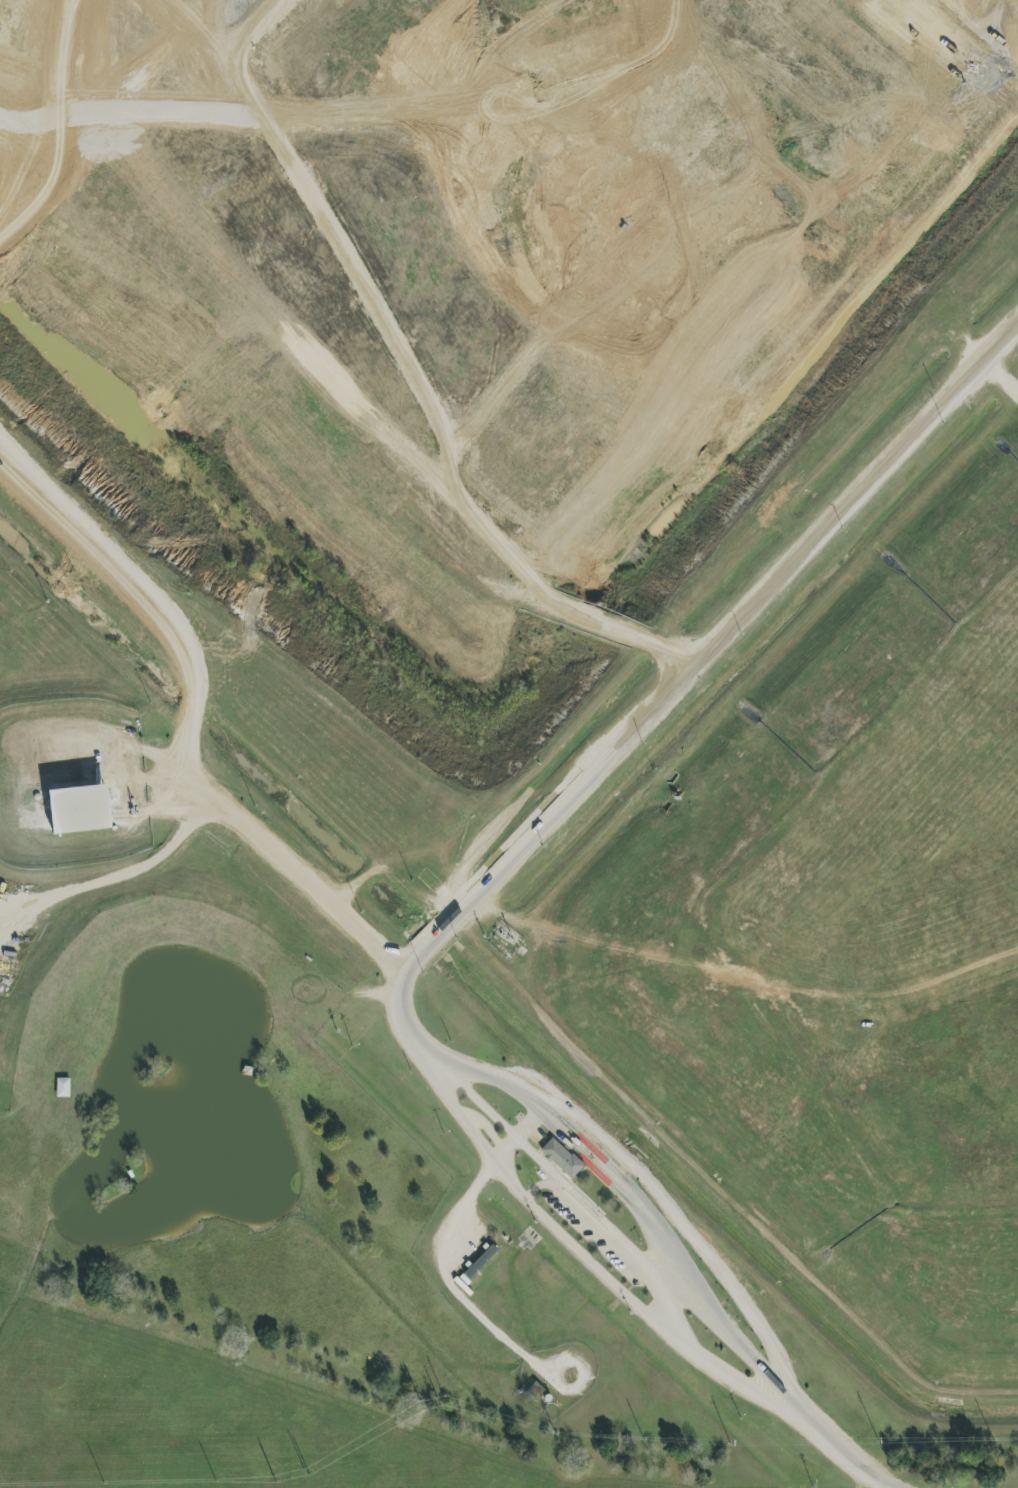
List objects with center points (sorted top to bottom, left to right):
landfill: (588, 540)
road: (196, 712)
building: (80, 809)
road: (134, 870)
road: (452, 923)
road: (744, 978)
road: (518, 1093)
building: (561, 1158)
road: (606, 1236)
road: (443, 1278)
building: (535, 1391)

